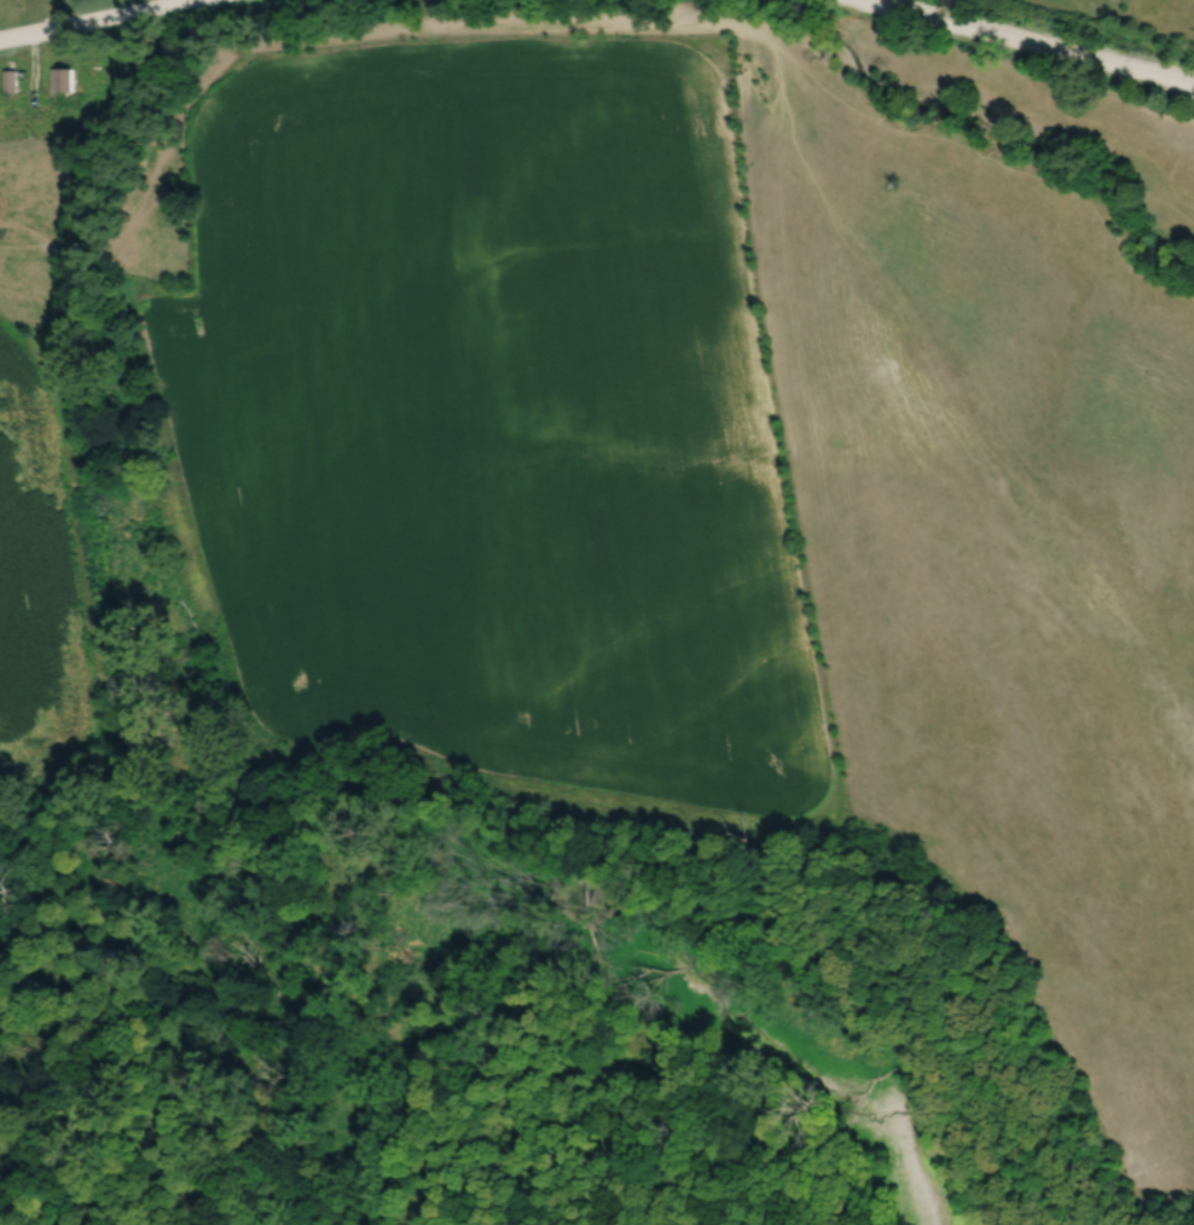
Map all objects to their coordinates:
road: (92, 18)
road: (1034, 42)
building: (62, 79)
building: (10, 81)
building: (89, 138)

